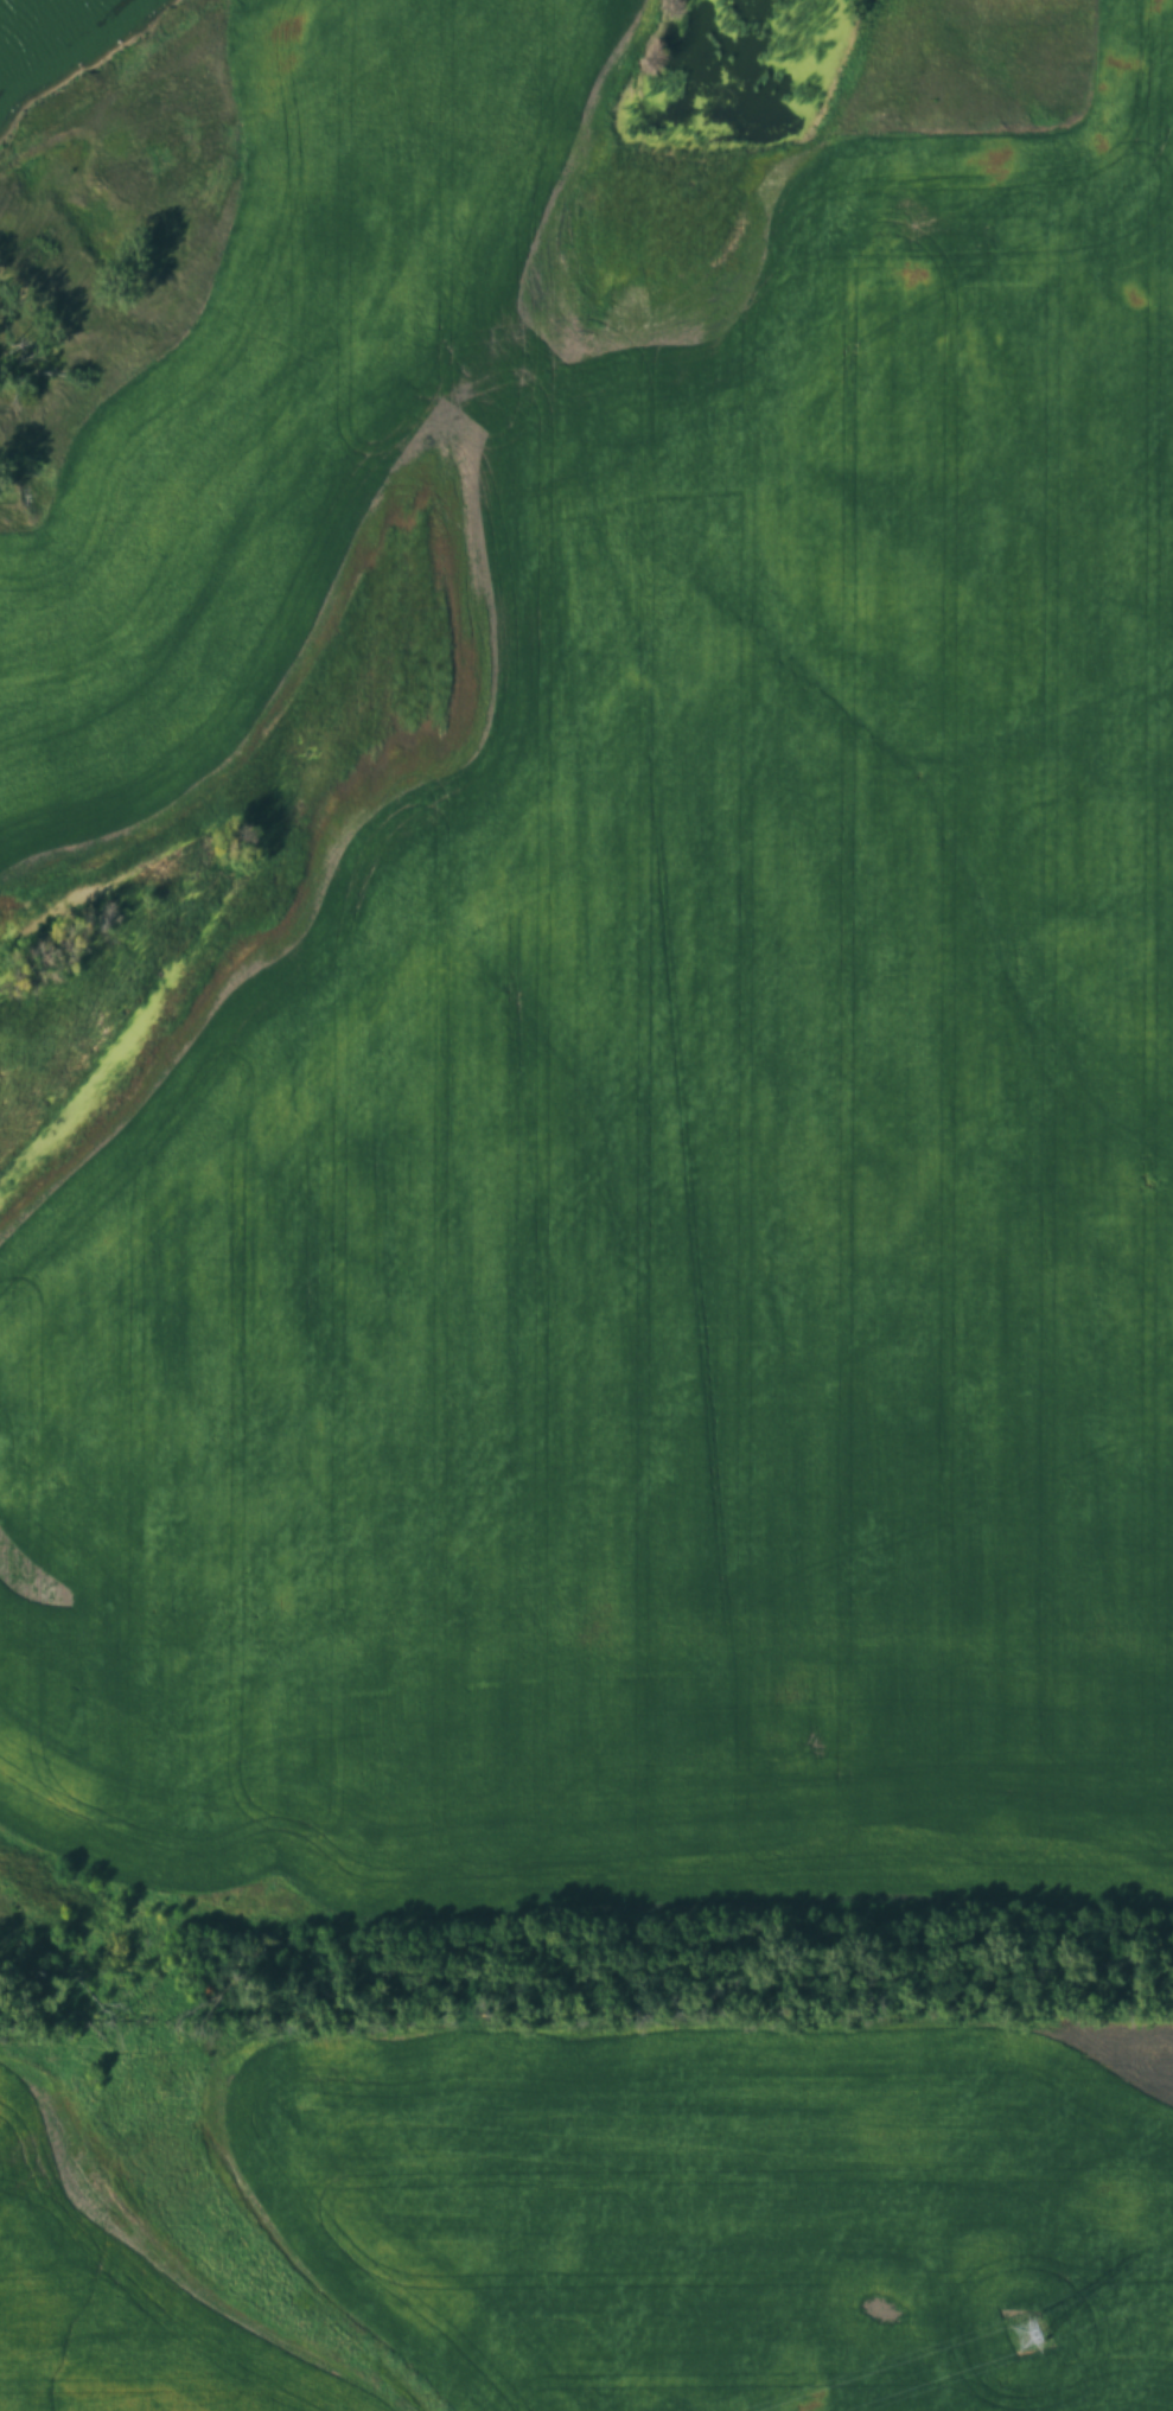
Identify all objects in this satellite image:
power tower: (1026, 2336)

